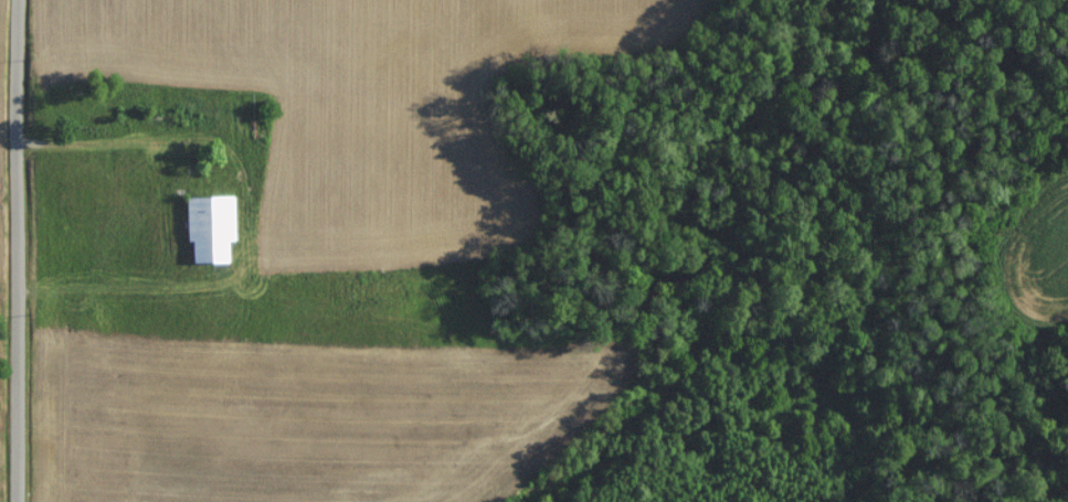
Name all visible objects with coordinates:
building: (201, 232)
road: (22, 250)

